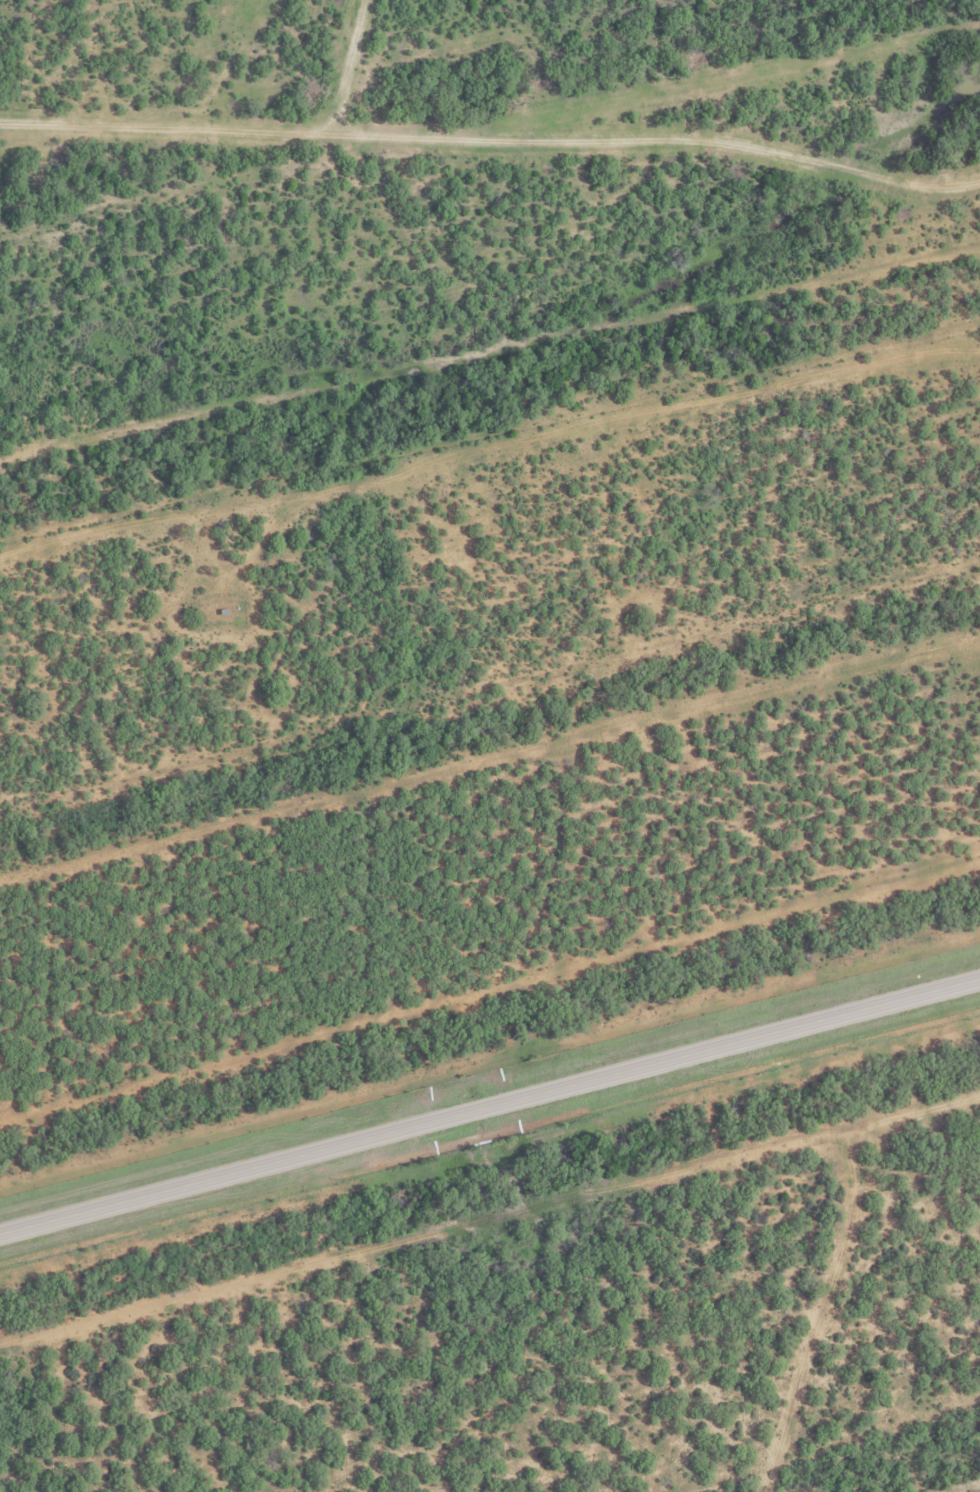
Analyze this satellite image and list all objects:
road: (490, 175)
road: (490, 1105)

